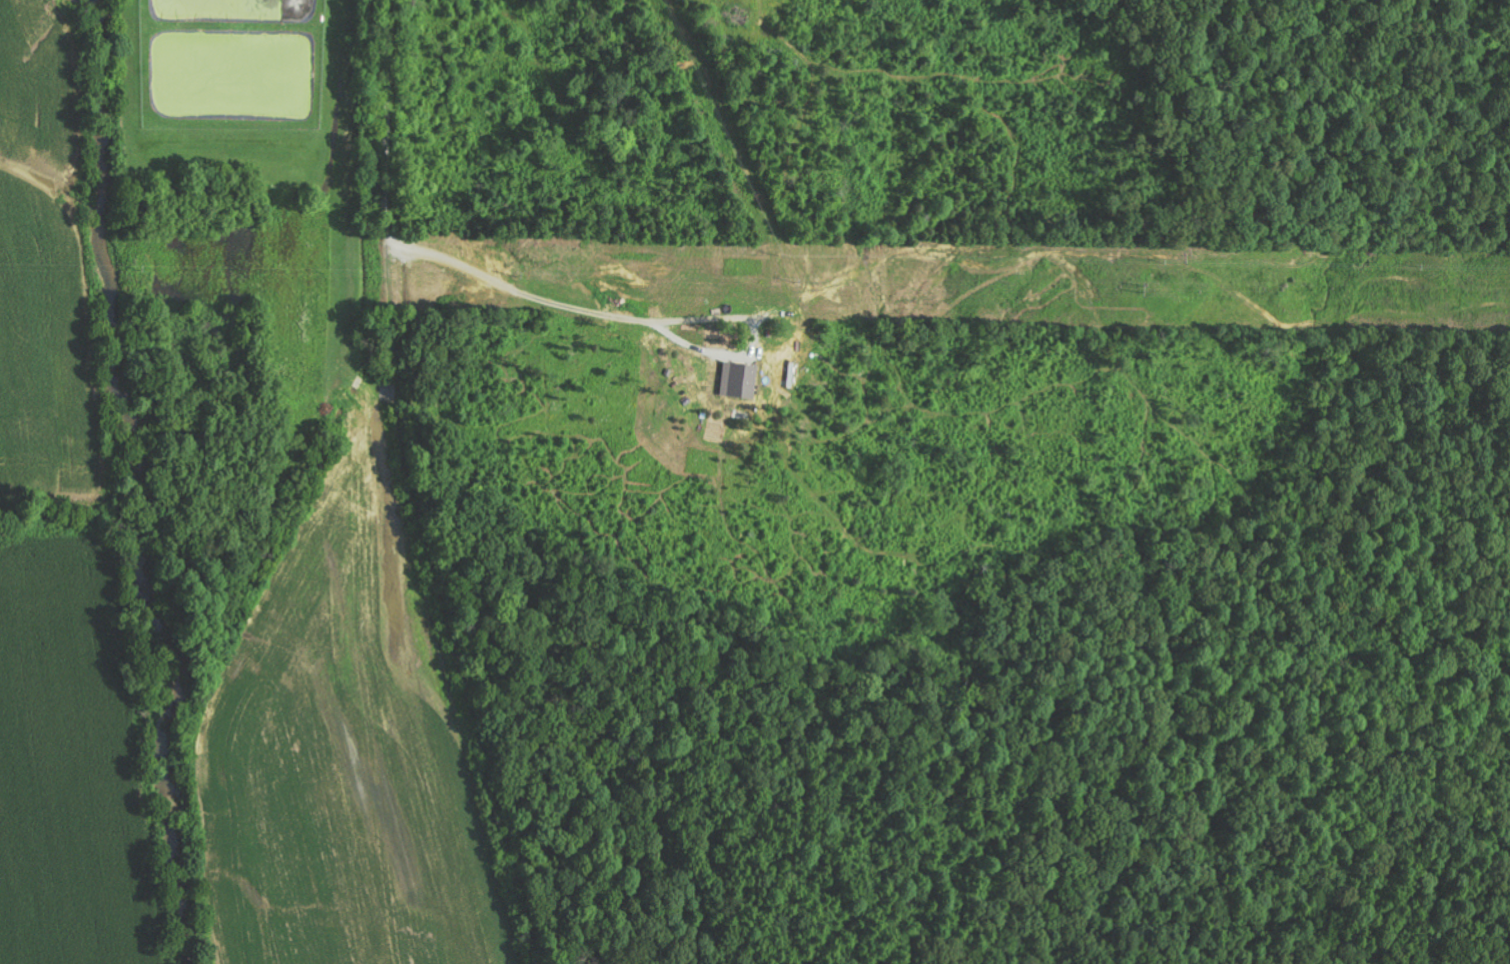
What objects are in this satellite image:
building: (741, 381)

